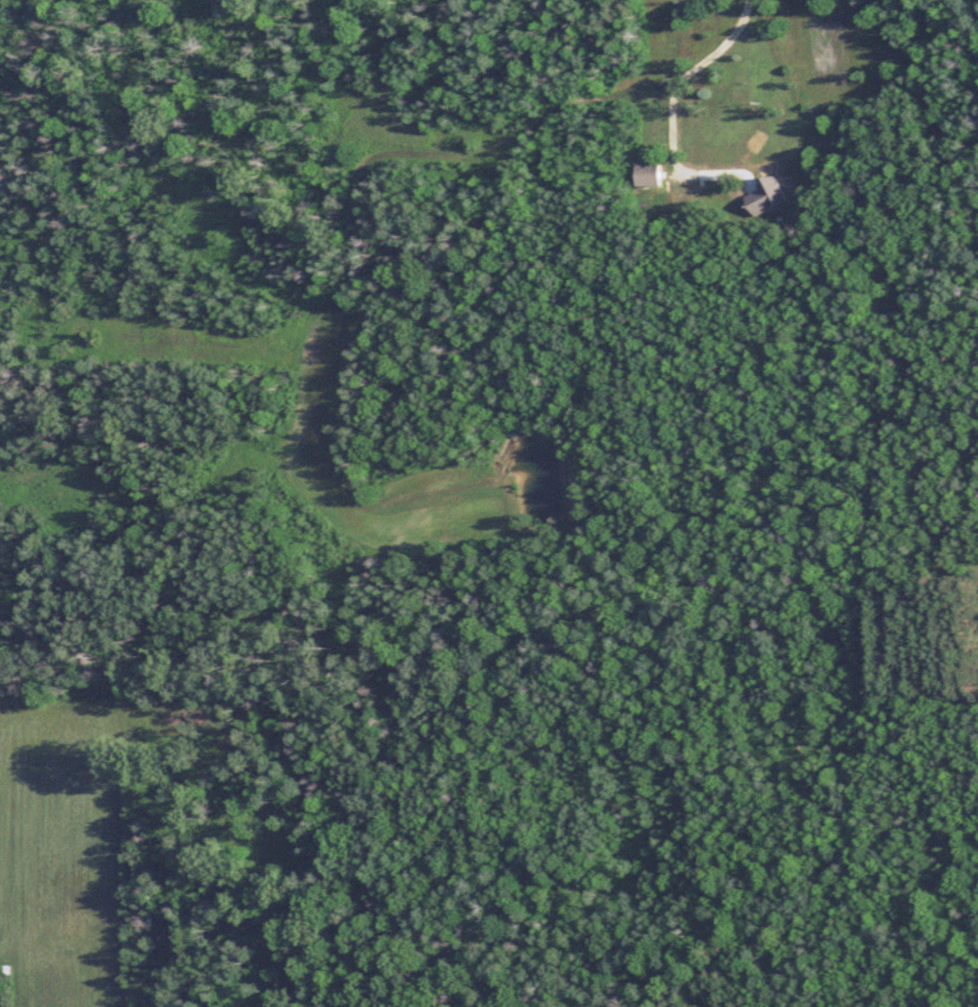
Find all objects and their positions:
road: (676, 104)
building: (644, 175)
building: (718, 175)

